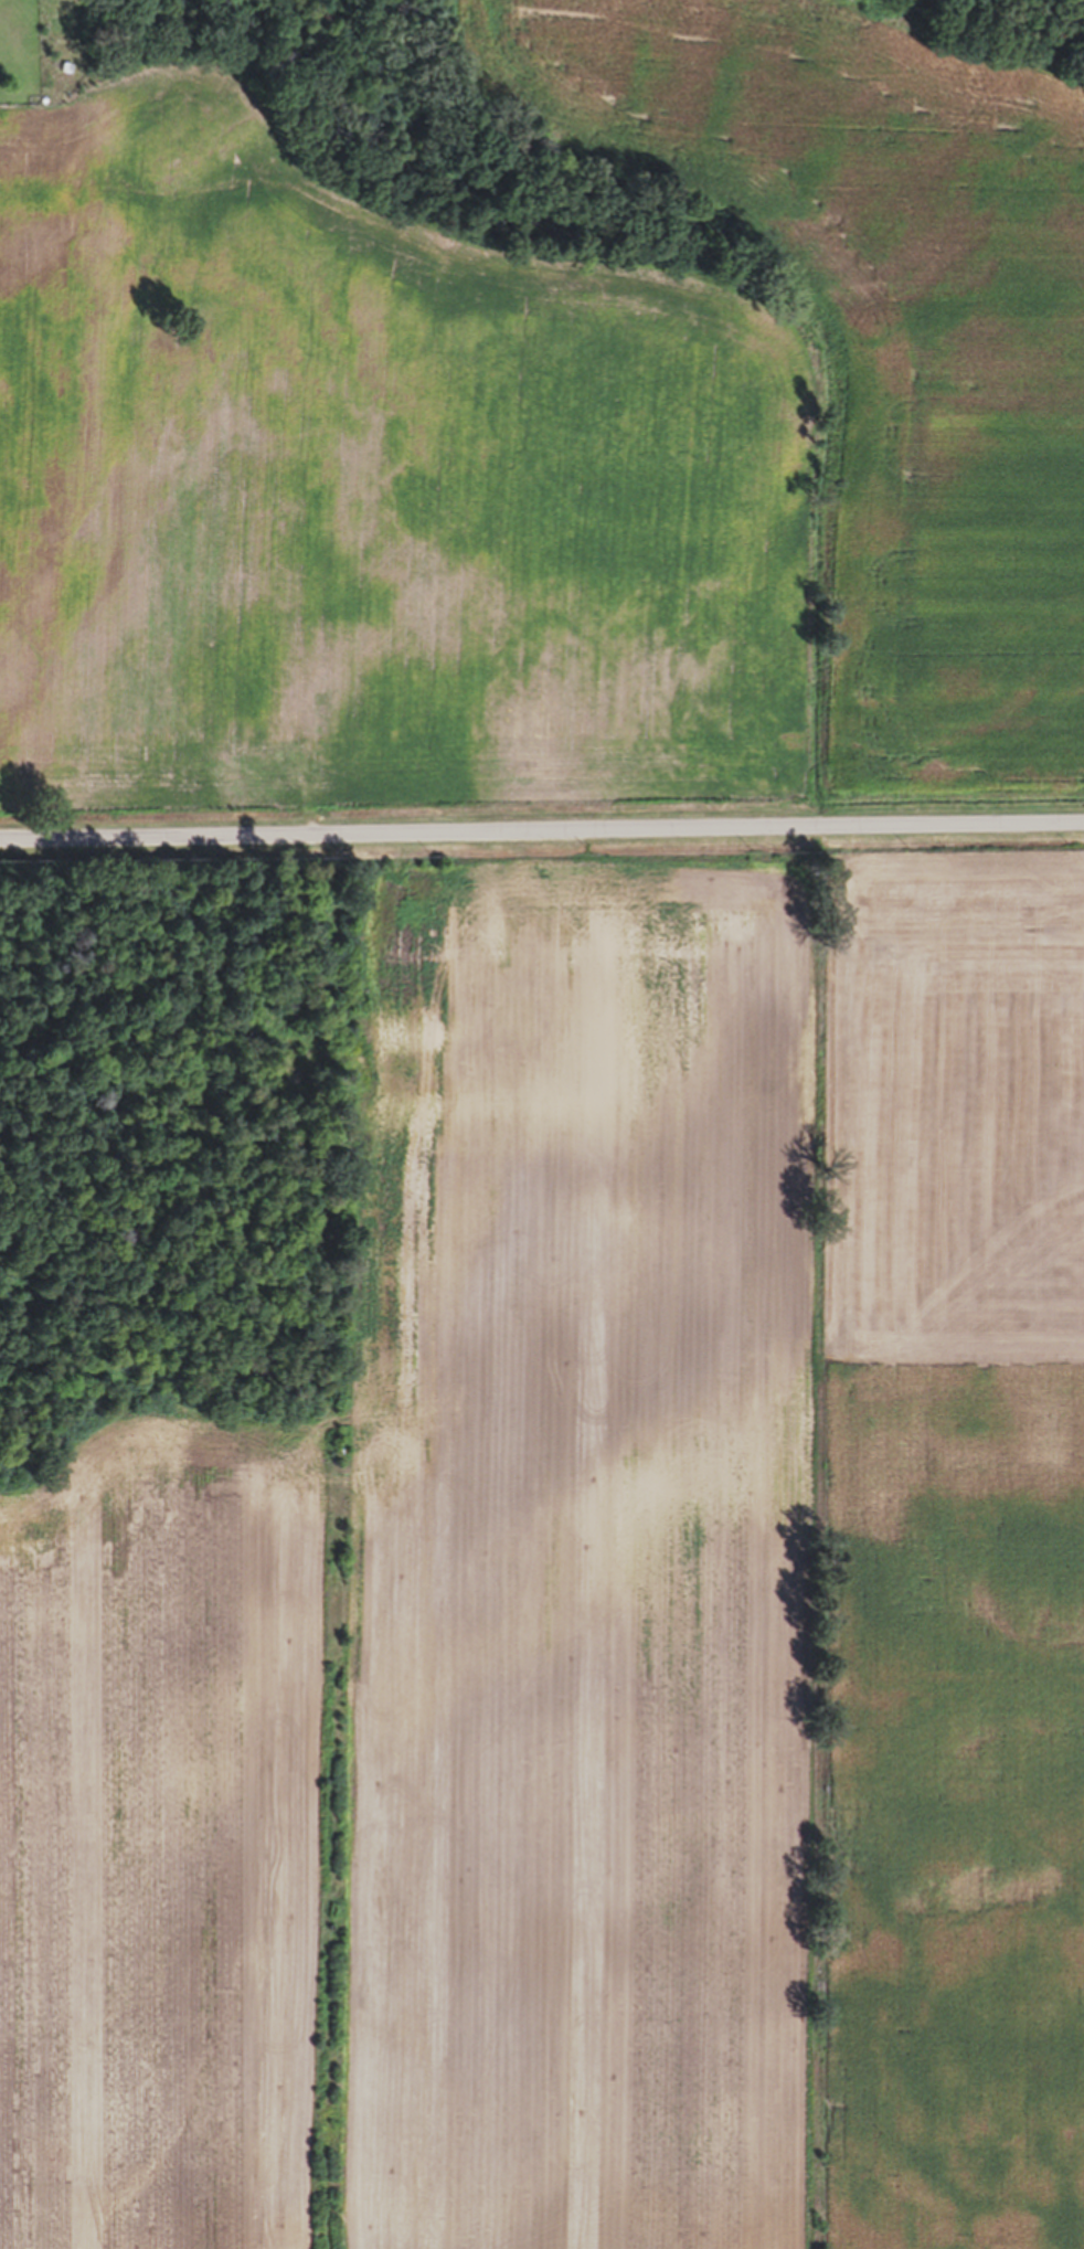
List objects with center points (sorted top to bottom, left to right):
road: (542, 835)
crop: (599, 1622)

